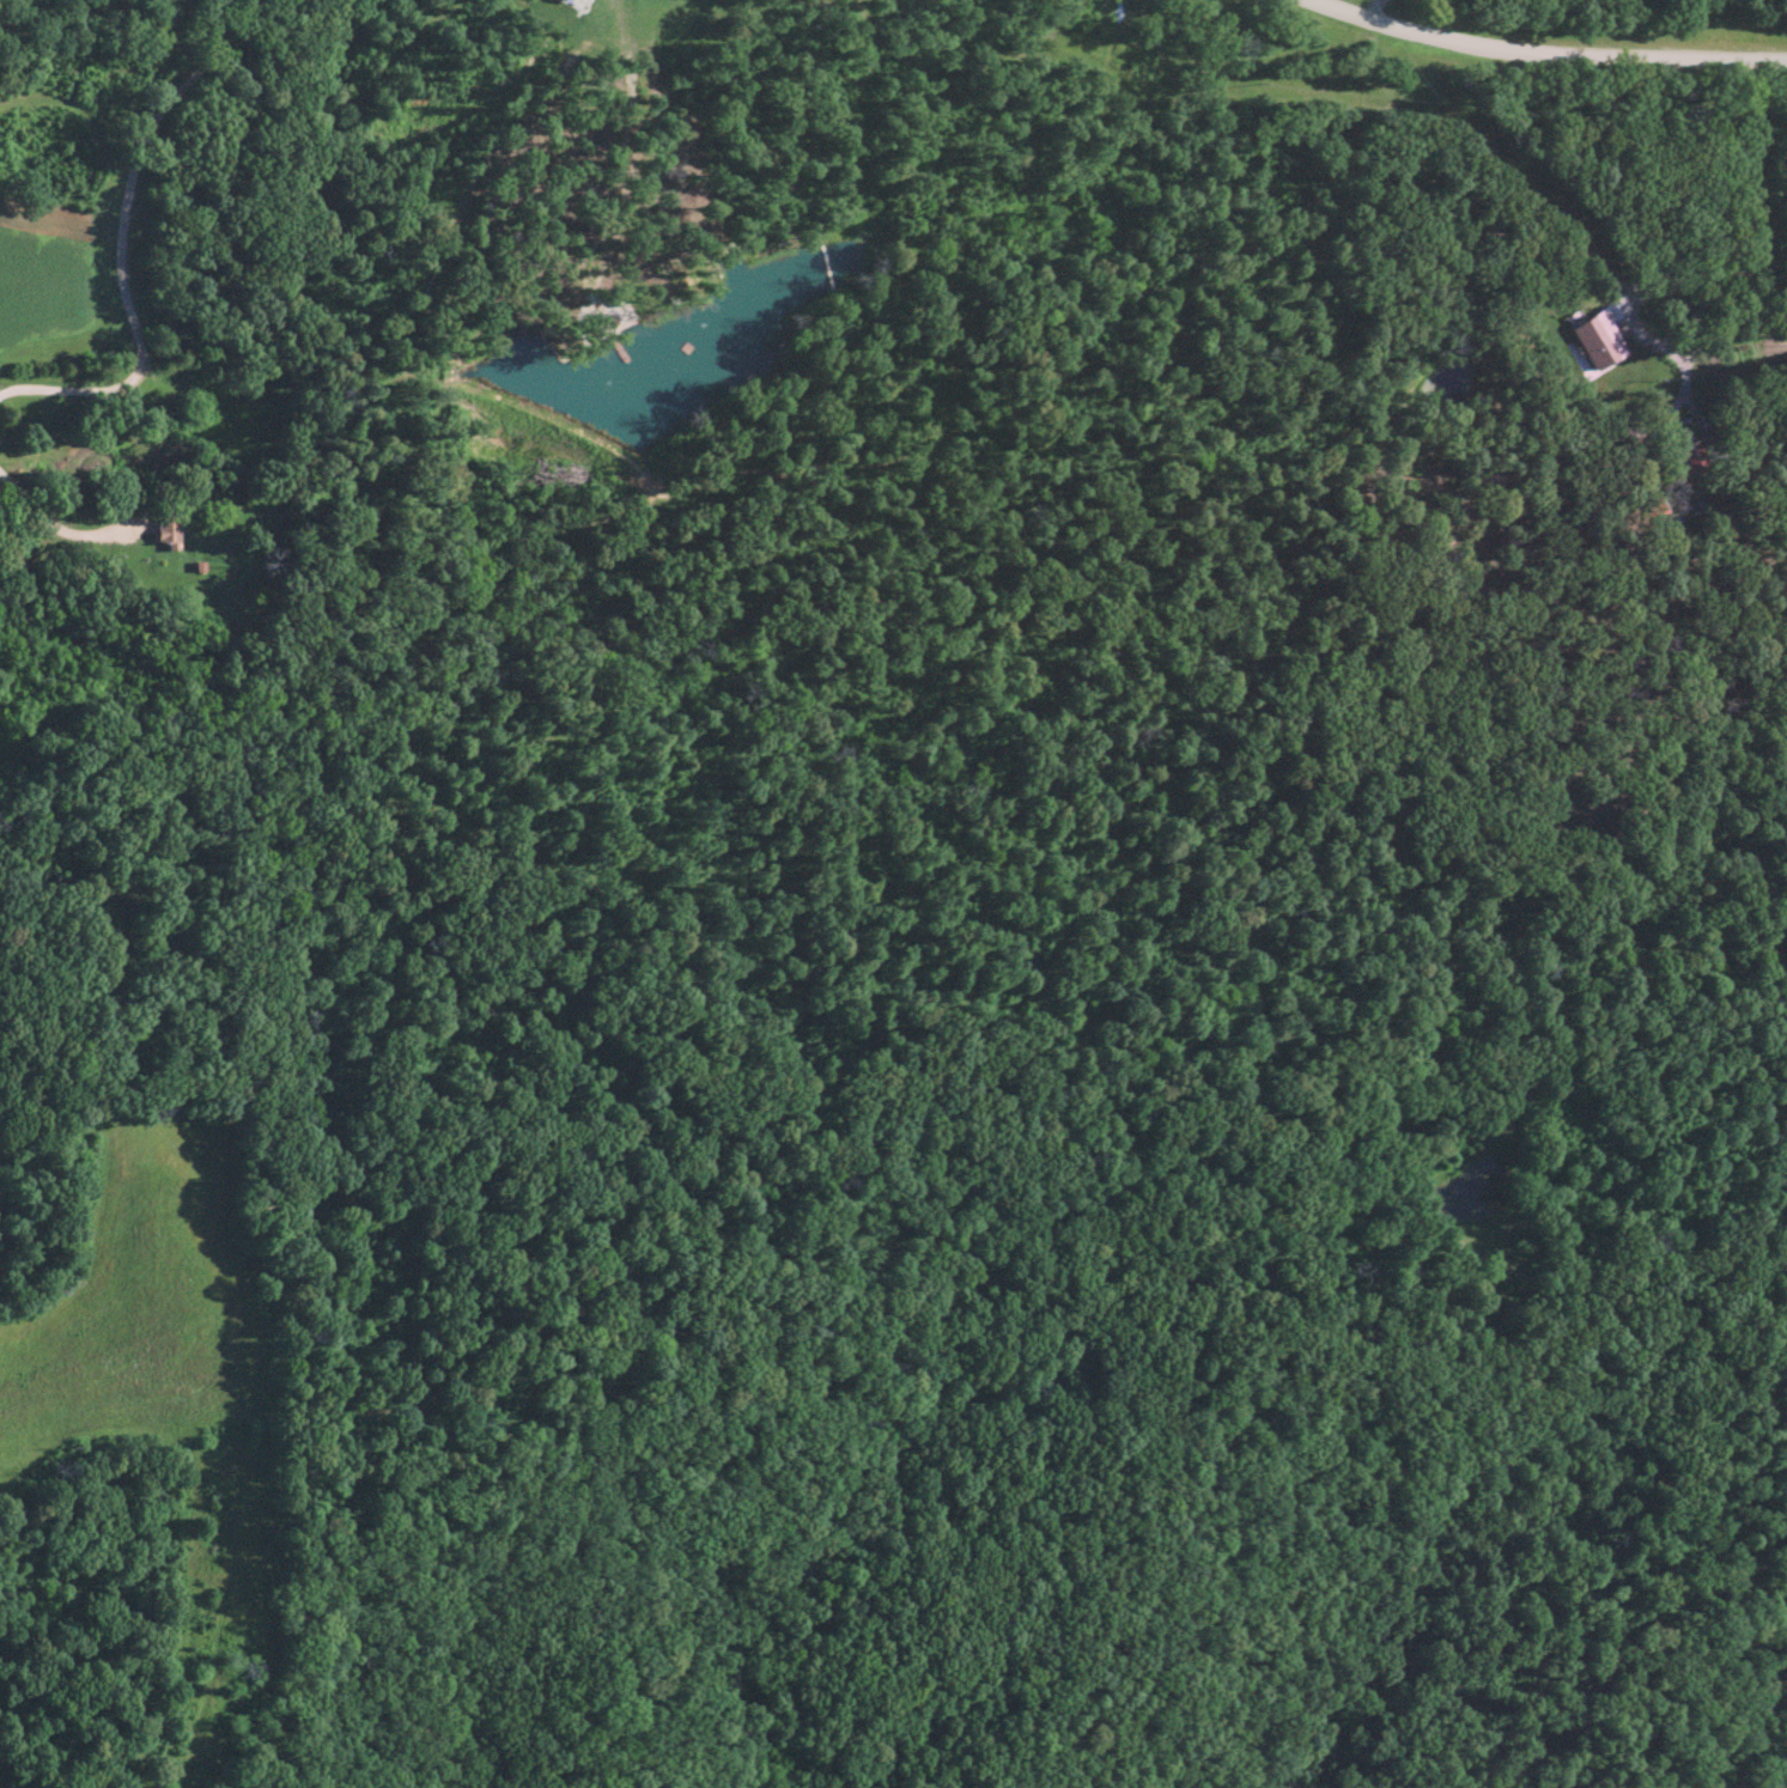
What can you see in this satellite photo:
building: (560, 0)
road: (1548, 42)
building: (1598, 335)
building: (1690, 454)
building: (166, 530)

